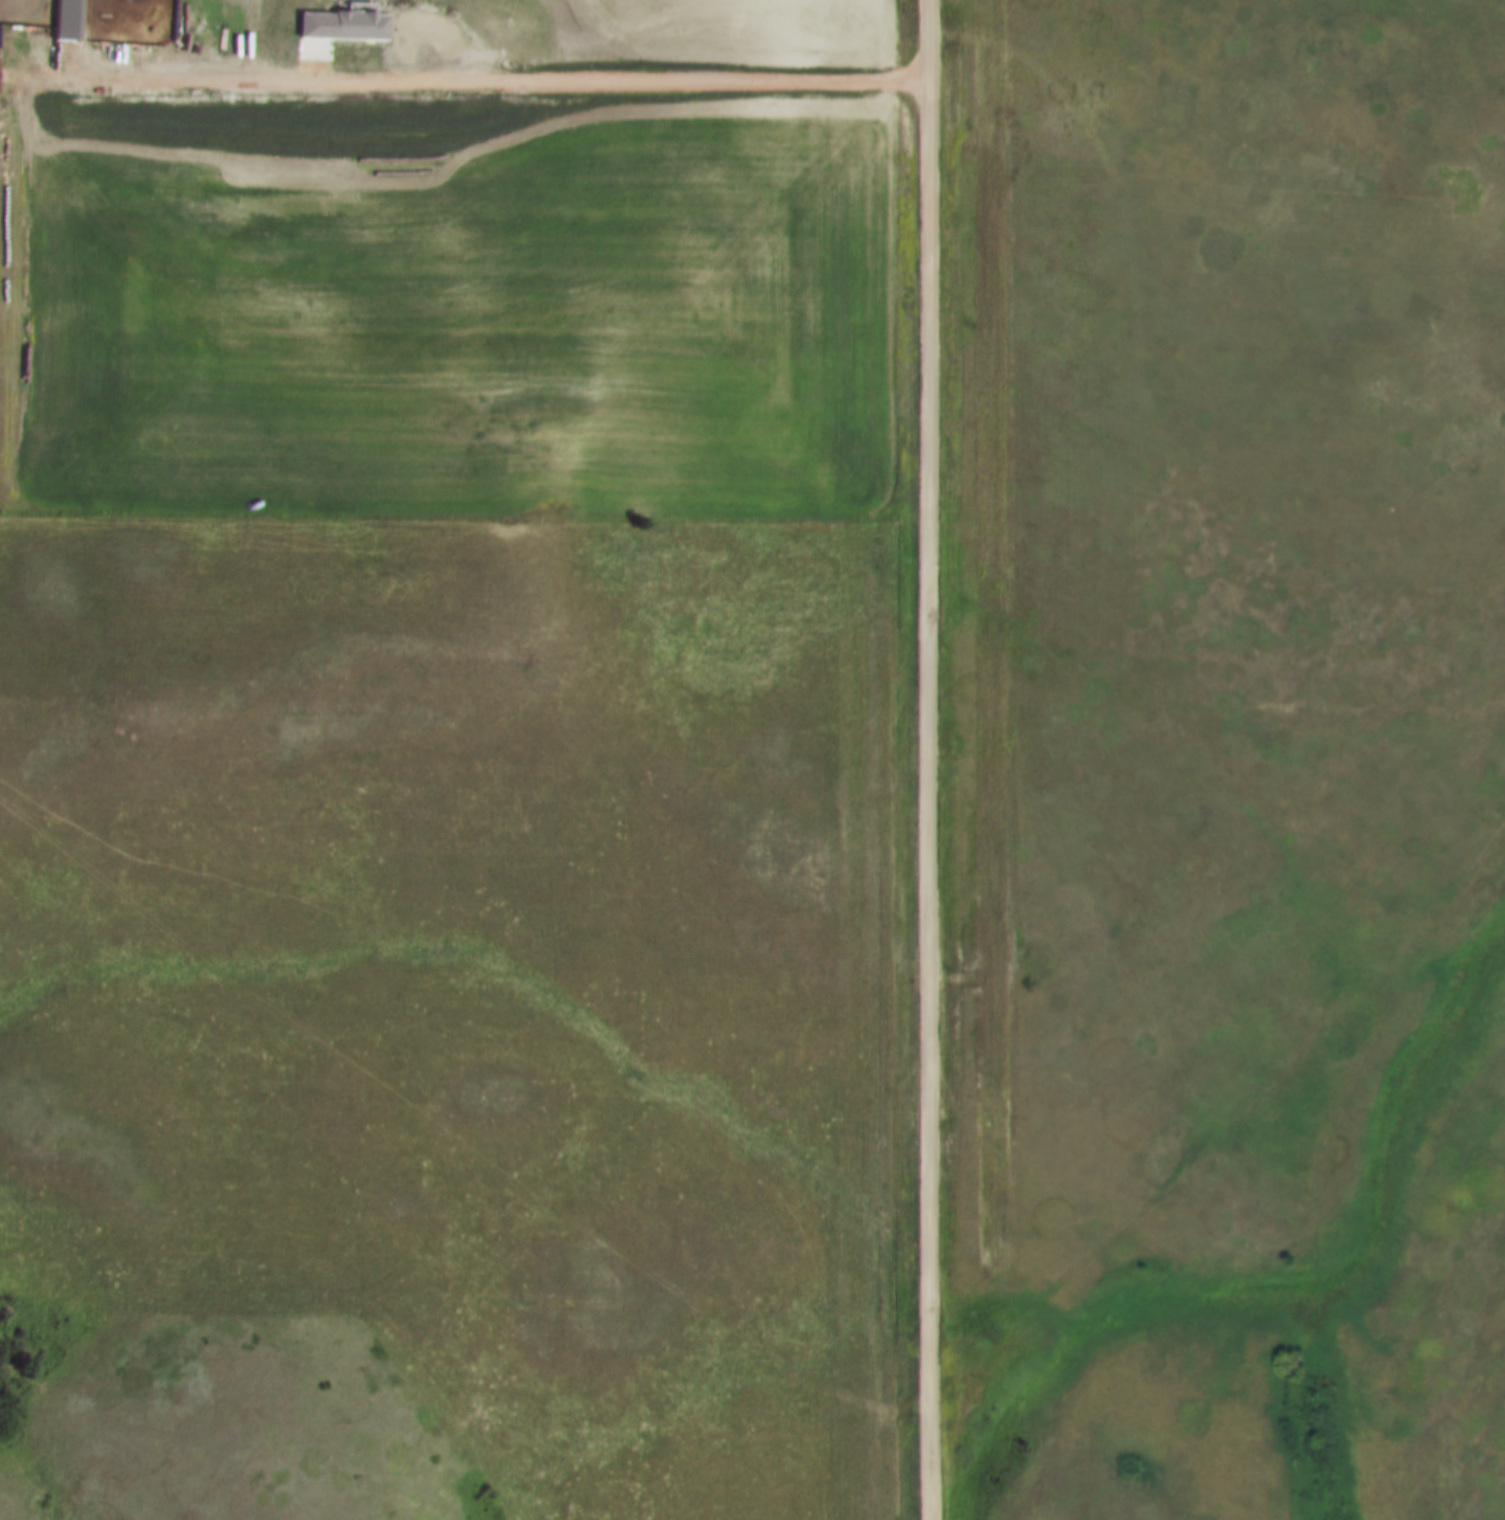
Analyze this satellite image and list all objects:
road: (941, 760)
road: (1460, 887)

